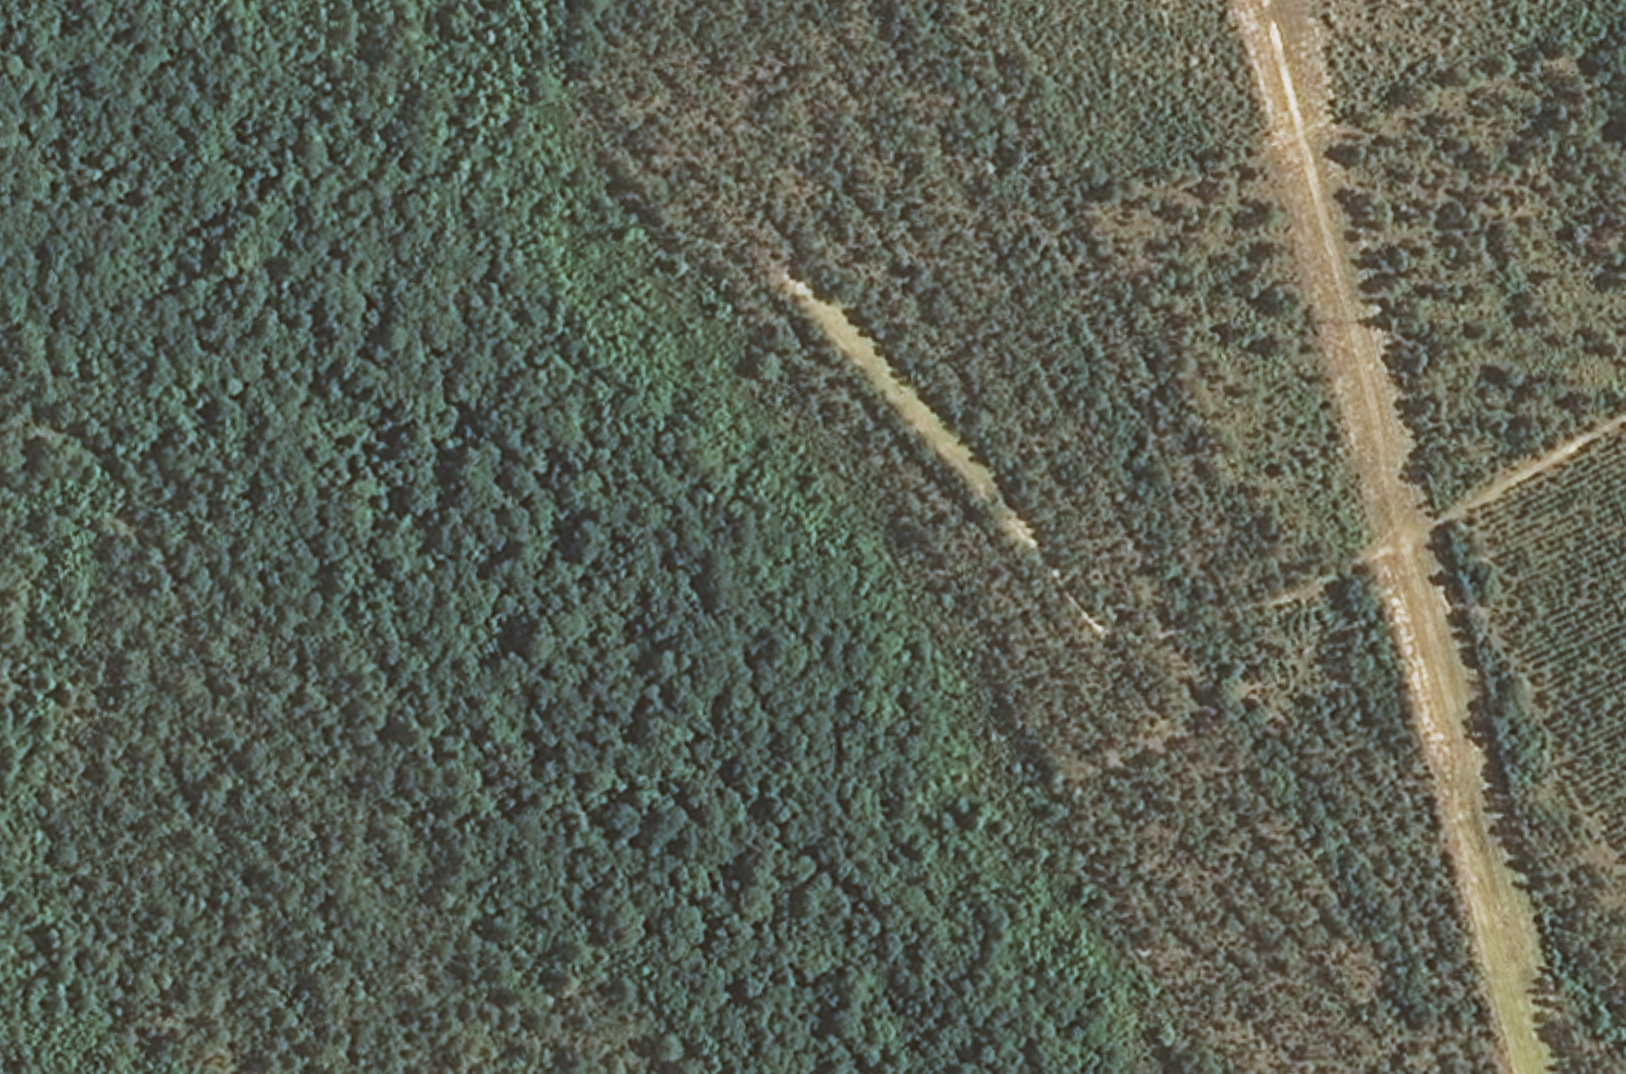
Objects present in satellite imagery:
power tower: (1348, 321)
power tower: (1456, 744)

